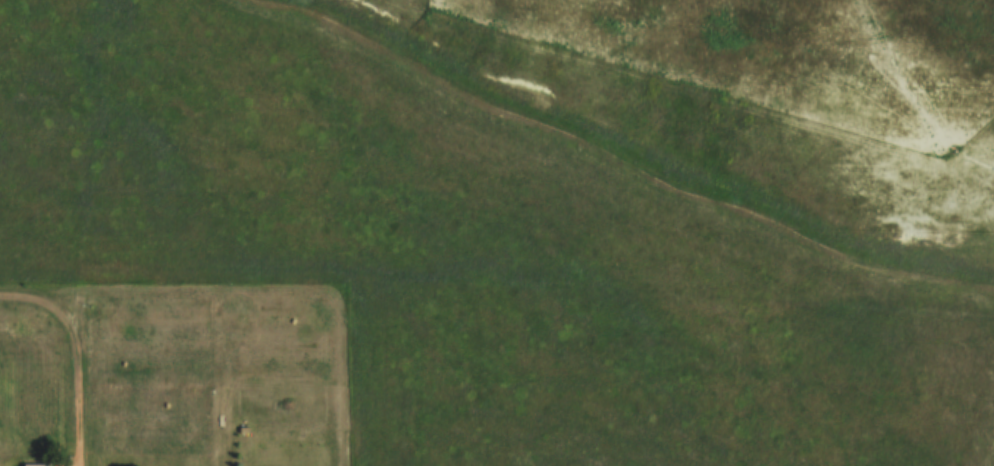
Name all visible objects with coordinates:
road: (38, 290)
road: (289, 294)
building: (32, 324)
road: (78, 377)
road: (220, 379)

